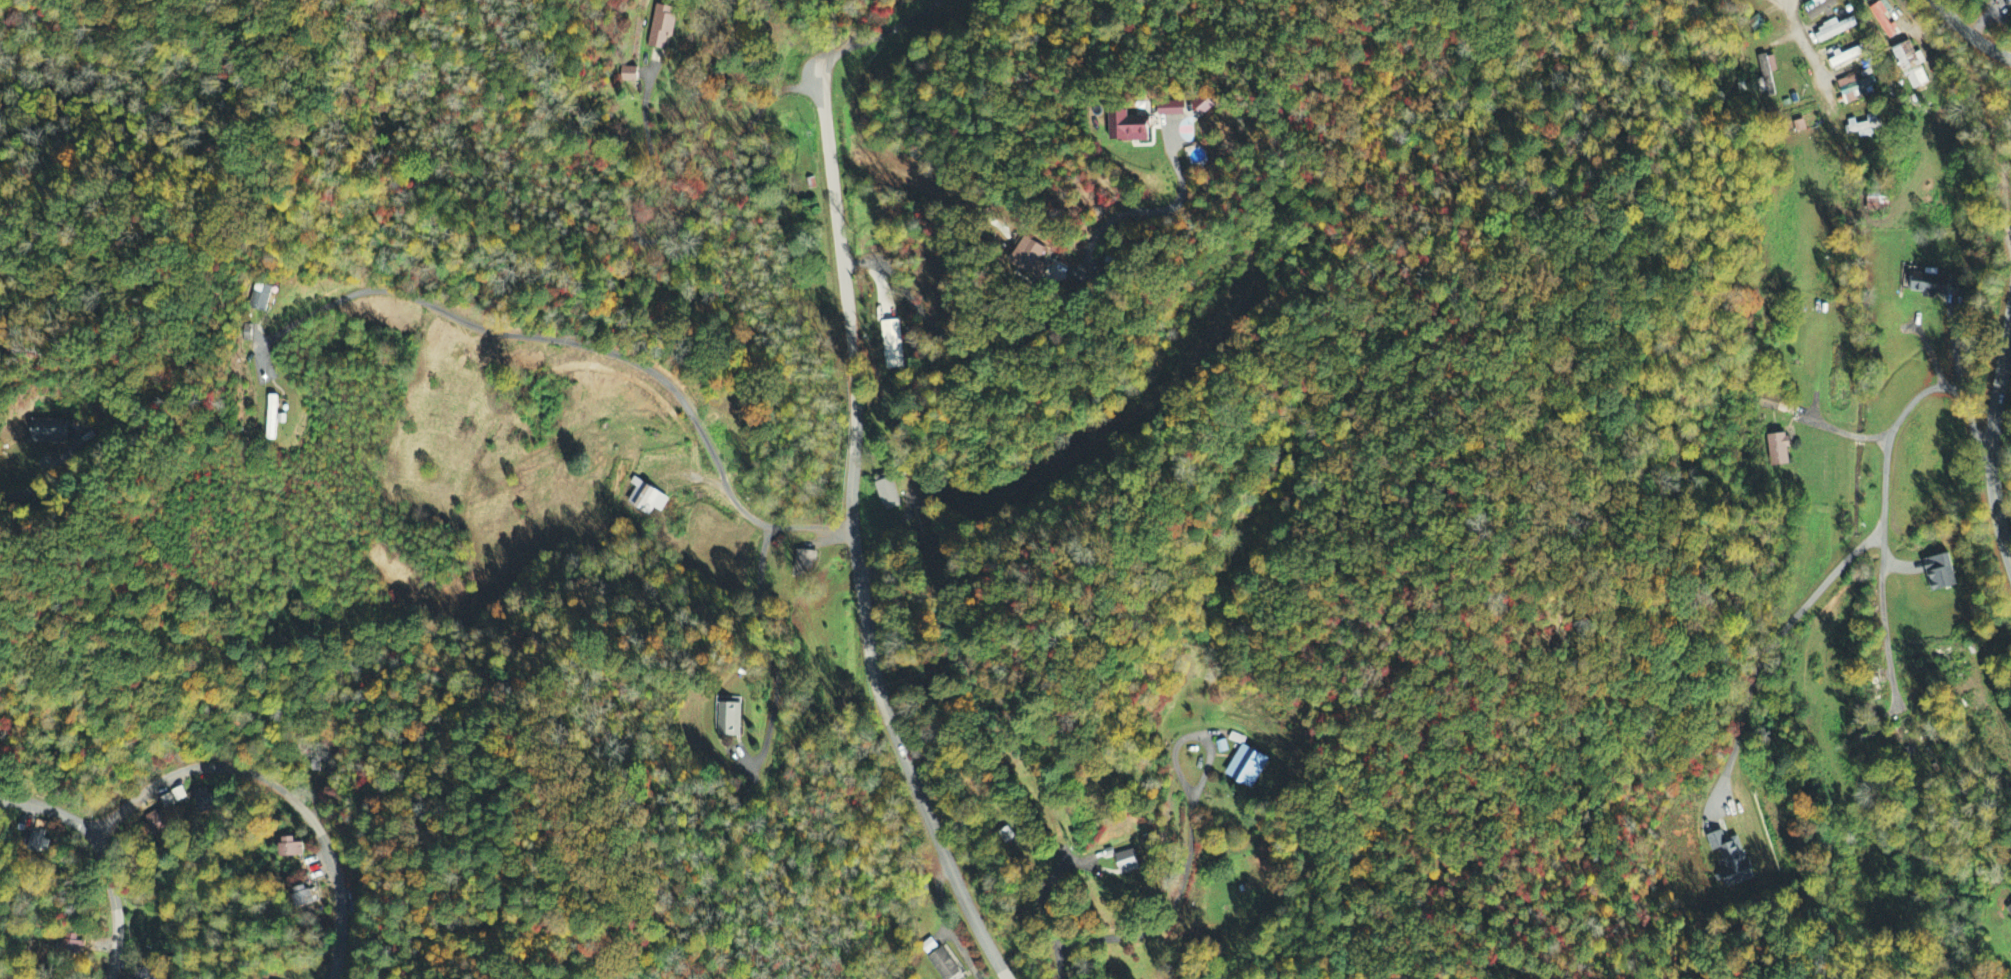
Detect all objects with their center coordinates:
road: (1787, 3)
building: (1819, 9)
building: (1883, 20)
building: (661, 27)
building: (1835, 30)
road: (1921, 32)
road: (1971, 32)
road: (831, 33)
road: (1809, 56)
building: (1847, 57)
building: (1767, 67)
building: (1916, 67)
building: (628, 76)
building: (1855, 87)
building: (1201, 105)
building: (1170, 109)
building: (1863, 127)
building: (1128, 128)
building: (1878, 202)
building: (1028, 257)
building: (1935, 286)
building: (259, 298)
road: (1053, 318)
road: (595, 347)
building: (894, 348)
road: (1917, 396)
building: (1767, 404)
building: (271, 419)
building: (48, 432)
road: (1994, 437)
building: (1778, 450)
building: (886, 493)
building: (646, 499)
road: (851, 536)
road: (1880, 570)
building: (1941, 574)
road: (1764, 654)
building: (729, 721)
building: (1246, 768)
road: (276, 787)
building: (203, 802)
road: (48, 809)
building: (156, 824)
building: (33, 843)
building: (291, 849)
building: (1732, 860)
building: (1128, 863)
building: (305, 898)
road: (115, 904)
building: (2009, 911)
building: (70, 946)
building: (943, 965)

